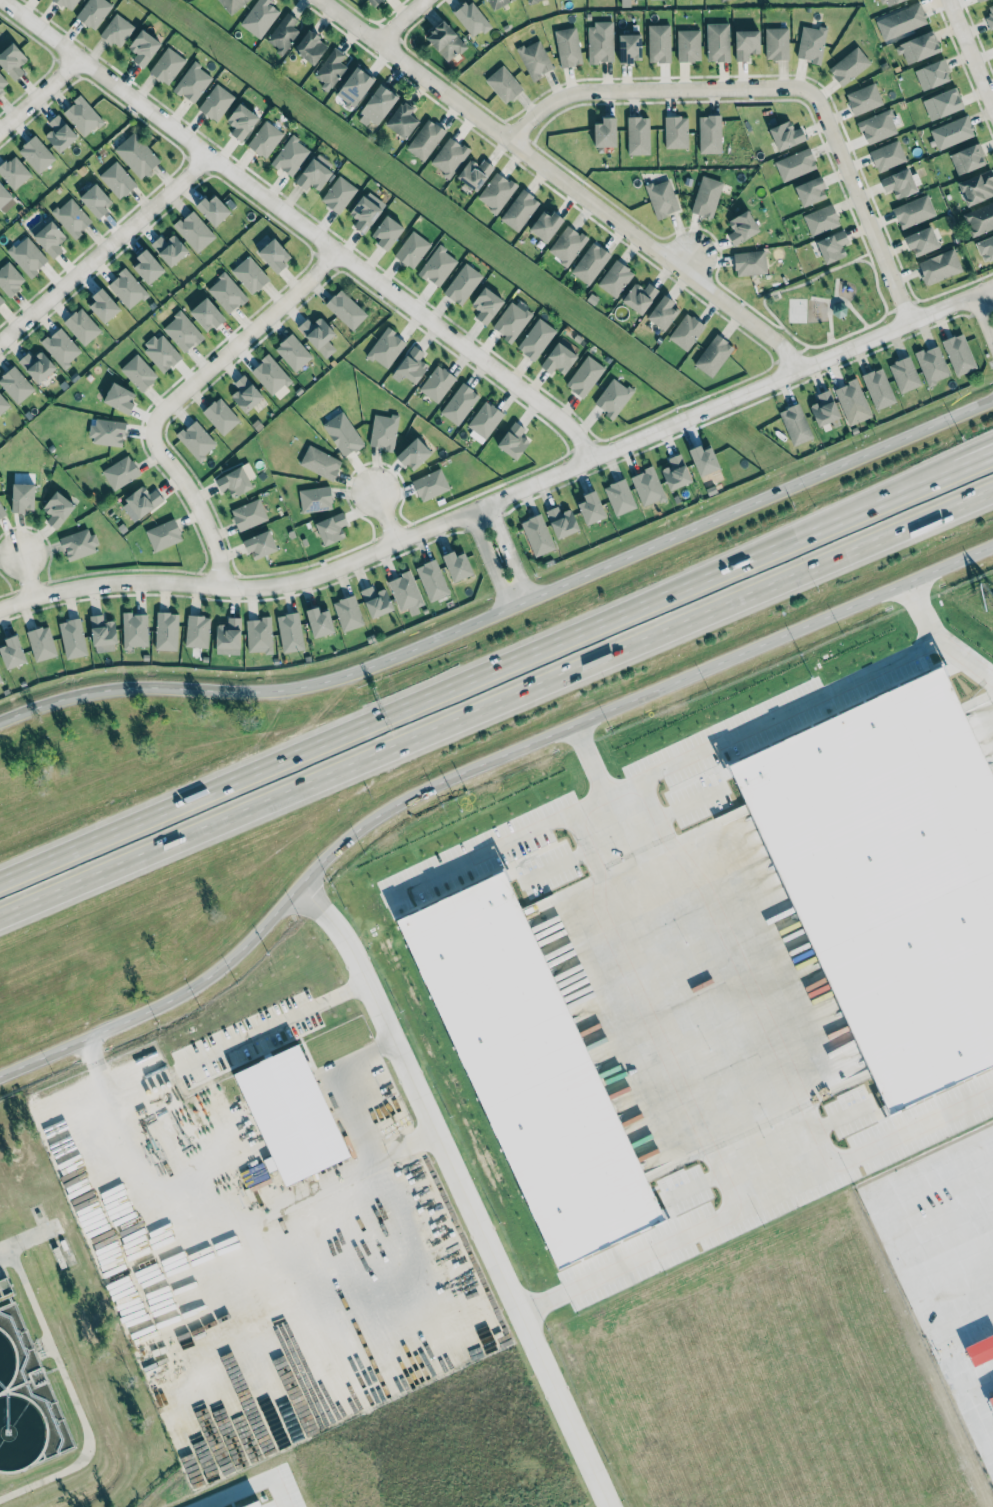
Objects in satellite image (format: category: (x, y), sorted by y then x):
building: (721, 0)
building: (977, 0)
building: (530, 1)
building: (374, 2)
building: (888, 2)
building: (496, 3)
building: (66, 4)
building: (231, 5)
building: (93, 12)
building: (990, 16)
building: (259, 17)
building: (471, 18)
road: (399, 21)
building: (901, 21)
building: (116, 30)
building: (282, 33)
building: (992, 34)
building: (444, 41)
building: (599, 42)
building: (717, 42)
building: (658, 43)
building: (745, 43)
building: (776, 43)
building: (811, 43)
building: (688, 45)
building: (310, 46)
building: (567, 46)
building: (142, 47)
building: (629, 47)
building: (917, 47)
road: (973, 51)
building: (534, 59)
building: (12, 60)
building: (166, 65)
building: (848, 66)
building: (330, 68)
building: (931, 74)
building: (192, 82)
building: (3, 83)
building: (503, 84)
building: (354, 86)
road: (776, 86)
road: (40, 95)
building: (863, 98)
building: (215, 102)
building: (941, 103)
building: (376, 105)
building: (82, 116)
building: (401, 120)
building: (241, 121)
building: (877, 127)
building: (605, 132)
building: (675, 132)
building: (951, 132)
building: (59, 133)
building: (709, 133)
building: (637, 135)
building: (786, 135)
building: (264, 139)
building: (424, 139)
building: (36, 154)
building: (136, 155)
building: (290, 155)
building: (887, 156)
building: (449, 157)
building: (967, 158)
building: (795, 164)
building: (13, 172)
building: (314, 172)
building: (474, 173)
building: (116, 179)
road: (562, 182)
building: (898, 183)
building: (976, 187)
building: (809, 190)
building: (496, 192)
building: (338, 194)
building: (706, 196)
building: (661, 197)
building: (4, 199)
building: (95, 200)
building: (212, 209)
building: (519, 210)
building: (913, 211)
building: (363, 213)
building: (71, 217)
building: (980, 218)
building: (820, 219)
road: (302, 222)
building: (545, 225)
building: (741, 227)
building: (194, 231)
building: (386, 231)
building: (47, 236)
building: (921, 241)
building: (566, 245)
road: (103, 246)
building: (832, 246)
building: (169, 248)
building: (985, 248)
building: (411, 249)
building: (273, 255)
building: (27, 256)
road: (688, 259)
building: (589, 262)
building: (749, 262)
building: (437, 265)
building: (147, 266)
building: (938, 266)
building: (249, 274)
building: (10, 278)
building: (615, 278)
building: (462, 283)
building: (127, 288)
building: (226, 293)
building: (639, 296)
building: (1, 300)
building: (485, 304)
building: (103, 306)
building: (345, 309)
building: (661, 312)
building: (206, 314)
building: (512, 319)
road: (982, 323)
building: (81, 325)
building: (182, 331)
building: (686, 331)
building: (317, 335)
building: (535, 338)
building: (60, 346)
building: (386, 348)
building: (160, 352)
building: (292, 352)
building: (958, 354)
building: (712, 355)
building: (558, 358)
building: (932, 364)
building: (36, 365)
building: (410, 365)
building: (138, 372)
building: (904, 374)
building: (269, 375)
building: (584, 376)
building: (436, 383)
building: (15, 384)
building: (878, 388)
building: (245, 394)
road: (176, 396)
building: (612, 397)
building: (119, 398)
building: (852, 402)
building: (459, 403)
building: (3, 404)
building: (824, 408)
building: (220, 415)
building: (483, 420)
building: (795, 424)
building: (383, 431)
building: (107, 432)
building: (342, 433)
building: (196, 440)
building: (513, 440)
building: (413, 454)
building: (702, 459)
building: (320, 462)
building: (120, 472)
building: (675, 472)
building: (235, 480)
building: (430, 484)
building: (647, 486)
road: (907, 486)
road: (907, 490)
road: (507, 494)
building: (619, 496)
building: (22, 497)
building: (315, 498)
building: (140, 502)
building: (590, 507)
building: (57, 508)
building: (1, 512)
building: (248, 514)
road: (385, 516)
building: (561, 521)
building: (330, 527)
building: (163, 534)
building: (537, 534)
building: (78, 544)
building: (259, 544)
road: (509, 550)
road: (487, 560)
building: (456, 565)
road: (27, 573)
building: (431, 580)
building: (405, 592)
building: (375, 601)
road: (507, 607)
building: (348, 612)
building: (319, 622)
building: (134, 630)
building: (166, 631)
building: (197, 631)
building: (290, 632)
building: (102, 633)
building: (228, 633)
building: (259, 634)
road: (938, 637)
building: (72, 638)
building: (41, 643)
building: (11, 652)
building: (0, 679)
road: (989, 681)
road: (493, 702)
road: (411, 705)
road: (590, 760)
road: (469, 768)
road: (665, 769)
road: (606, 797)
building: (891, 875)
road: (191, 888)
road: (210, 1049)
building: (530, 1069)
road: (343, 1083)
building: (291, 1114)
road: (460, 1191)
road: (755, 1202)
road: (246, 1219)
road: (27, 1238)
wastewater plant: (62, 1352)
road: (71, 1395)
wastewater plant: (26, 1401)
building: (990, 1402)
building: (5, 1506)

